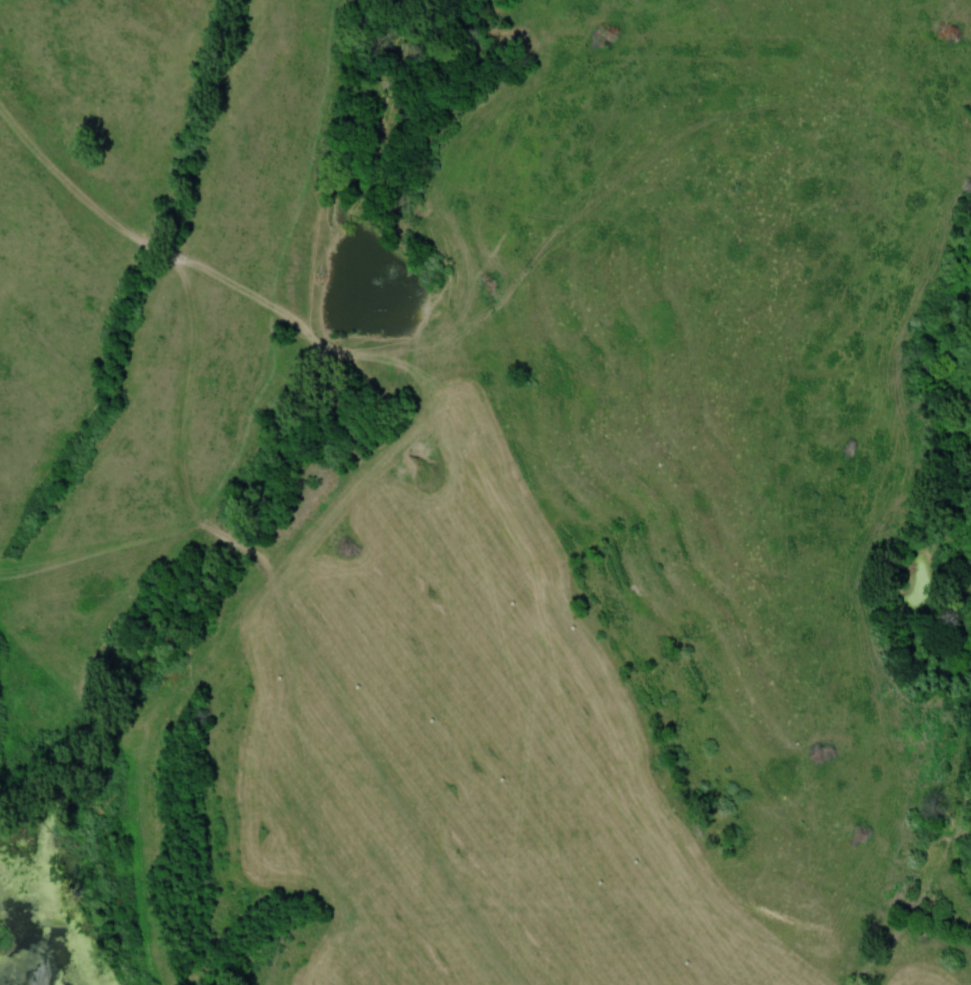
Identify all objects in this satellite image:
road: (320, 656)

